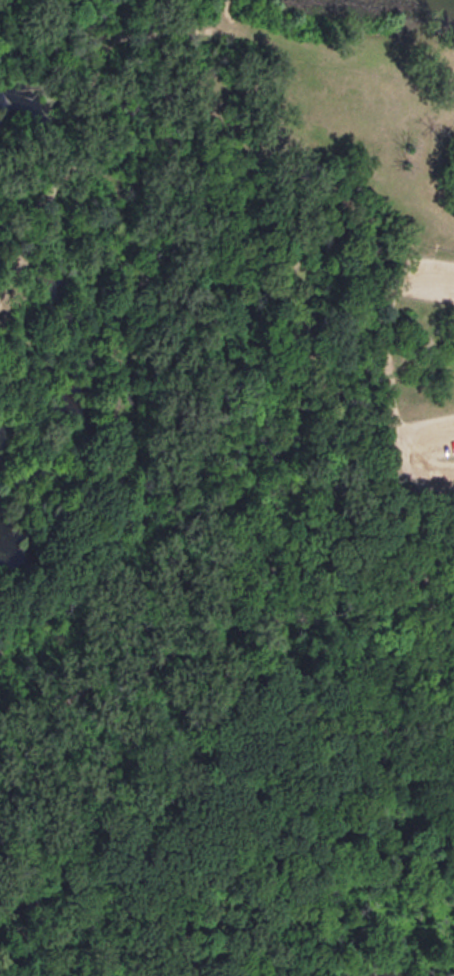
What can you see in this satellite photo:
park: (228, 29)
road: (109, 34)
road: (323, 132)
road: (69, 168)
road: (134, 329)
road: (376, 351)
road: (312, 369)
road: (428, 473)
road: (441, 486)
park: (226, 517)

